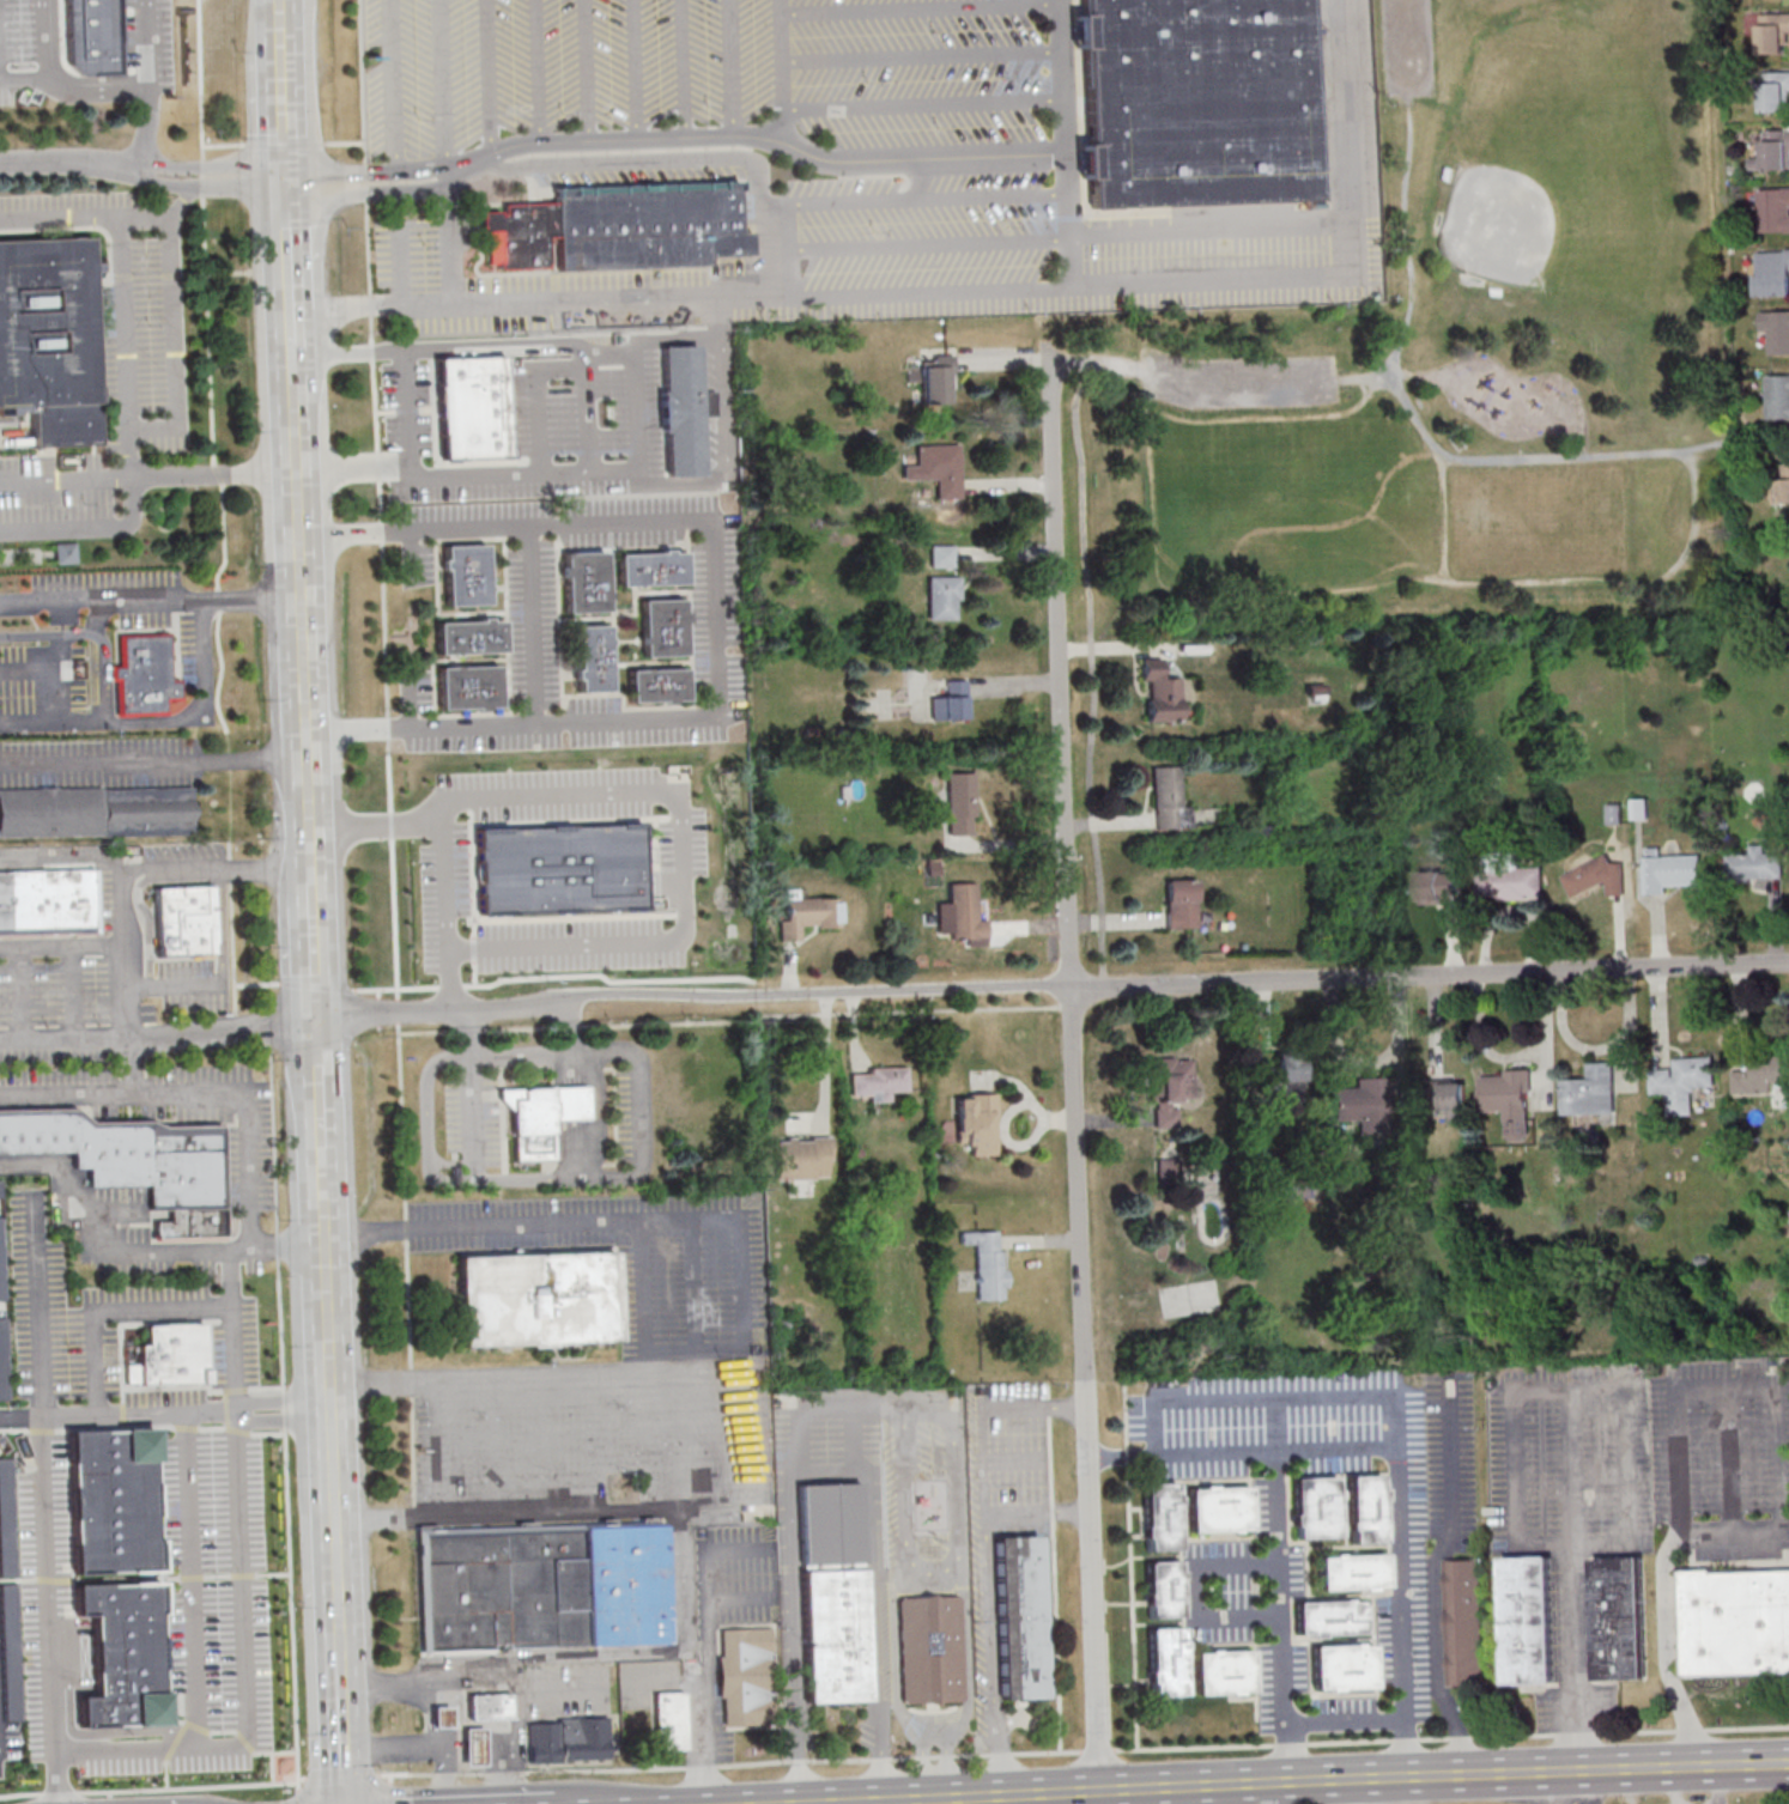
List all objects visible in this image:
building: (90, 6)
road: (922, 7)
road: (280, 22)
building: (1771, 32)
building: (92, 34)
parking lot: (148, 40)
road: (1409, 47)
parking lot: (1409, 50)
road: (923, 54)
parking lot: (47, 59)
road: (729, 66)
road: (685, 67)
road: (589, 68)
road: (635, 68)
road: (538, 69)
road: (784, 72)
road: (491, 77)
road: (150, 83)
road: (74, 85)
road: (396, 87)
road: (444, 87)
building: (1773, 91)
building: (1197, 101)
road: (926, 105)
road: (284, 113)
road: (1341, 134)
building: (1776, 148)
road: (486, 157)
road: (851, 158)
road: (684, 160)
parking lot: (862, 160)
road: (69, 162)
road: (463, 166)
road: (219, 169)
road: (422, 174)
road: (447, 174)
road: (344, 178)
road: (921, 178)
traffic signals: (287, 183)
road: (211, 187)
road: (364, 190)
road: (917, 199)
park: (1540, 201)
road: (287, 208)
building: (1773, 209)
road: (86, 217)
road: (1072, 217)
building: (612, 227)
road: (920, 244)
road: (290, 263)
building: (1772, 272)
road: (836, 290)
road: (372, 306)
parking lot: (135, 310)
road: (292, 317)
road: (127, 322)
building: (1776, 330)
building: (49, 335)
road: (586, 345)
road: (176, 351)
park: (1461, 360)
building: (936, 378)
road: (1385, 378)
parking lot: (1239, 384)
road: (1196, 387)
road: (1144, 395)
building: (1777, 395)
building: (475, 406)
building: (685, 408)
road: (408, 411)
road: (296, 439)
road: (1432, 445)
road: (724, 451)
road: (1584, 451)
building: (509, 463)
building: (941, 467)
road: (583, 472)
road: (148, 478)
building: (1782, 485)
parking lot: (55, 496)
park: (1285, 500)
road: (1445, 521)
building: (63, 552)
building: (944, 555)
building: (653, 566)
building: (466, 572)
building: (584, 581)
road: (1279, 593)
road: (254, 596)
building: (944, 596)
road: (102, 599)
road: (716, 625)
building: (663, 626)
road: (534, 627)
building: (471, 634)
building: (1195, 646)
parking lot: (98, 650)
building: (593, 657)
building: (144, 673)
road: (1093, 673)
road: (305, 682)
road: (387, 684)
building: (659, 684)
building: (469, 685)
building: (1162, 691)
building: (1317, 692)
building: (952, 700)
road: (162, 722)
road: (153, 763)
building: (1171, 798)
building: (963, 801)
building: (1639, 808)
building: (96, 812)
road: (311, 846)
road: (683, 855)
road: (61, 860)
building: (1754, 864)
road: (214, 867)
building: (562, 867)
building: (1669, 871)
building: (1596, 877)
building: (1509, 883)
building: (1436, 886)
road: (313, 889)
building: (47, 899)
building: (1182, 903)
building: (968, 911)
building: (808, 912)
building: (184, 919)
road: (60, 943)
road: (316, 967)
road: (1432, 973)
road: (449, 980)
road: (172, 984)
road: (73, 989)
road: (833, 990)
road: (22, 991)
road: (569, 998)
road: (432, 1012)
traffic signals: (319, 1020)
road: (473, 1027)
road: (138, 1033)
road: (61, 1035)
parking lot: (137, 1047)
road: (829, 1057)
road: (129, 1062)
road: (578, 1068)
building: (1285, 1074)
building: (1763, 1075)
road: (1079, 1077)
building: (878, 1082)
building: (1682, 1082)
building: (1170, 1089)
road: (202, 1091)
building: (1591, 1091)
road: (322, 1095)
building: (1445, 1099)
building: (1509, 1099)
building: (1364, 1101)
road: (580, 1103)
road: (477, 1112)
building: (542, 1116)
building: (977, 1122)
road: (581, 1149)
building: (802, 1158)
building: (132, 1161)
road: (578, 1178)
road: (326, 1193)
building: (68, 1209)
road: (704, 1220)
road: (291, 1244)
road: (98, 1252)
parking lot: (641, 1261)
building: (988, 1262)
road: (697, 1283)
building: (536, 1295)
road: (40, 1305)
road: (111, 1311)
road: (330, 1312)
road: (234, 1329)
building: (165, 1354)
road: (389, 1384)
road: (1567, 1389)
road: (1248, 1398)
road: (1675, 1405)
road: (922, 1407)
road: (285, 1408)
road: (830, 1408)
road: (875, 1408)
road: (988, 1410)
road: (19, 1417)
road: (1395, 1423)
road: (1157, 1427)
parking lot: (600, 1436)
road: (445, 1450)
road: (1219, 1454)
road: (1127, 1457)
road: (1729, 1458)
road: (42, 1487)
building: (119, 1499)
building: (1318, 1506)
building: (1220, 1507)
building: (1369, 1507)
road: (336, 1510)
building: (1163, 1514)
road: (683, 1544)
road: (1132, 1566)
road: (1055, 1567)
building: (1354, 1571)
building: (1698, 1571)
road: (194, 1580)
road: (1438, 1580)
road: (1572, 1581)
building: (545, 1586)
building: (1165, 1587)
building: (836, 1592)
road: (1196, 1595)
road: (290, 1600)
road: (990, 1600)
road: (1403, 1614)
building: (1023, 1616)
building: (1332, 1616)
building: (1618, 1616)
road: (1284, 1618)
building: (1532, 1618)
building: (1464, 1620)
building: (1736, 1622)
road: (340, 1633)
road: (709, 1644)
building: (933, 1648)
building: (127, 1651)
building: (1168, 1660)
building: (1345, 1666)
road: (244, 1671)
building: (1225, 1671)
building: (748, 1675)
road: (466, 1682)
building: (487, 1706)
road: (454, 1715)
building: (442, 1717)
building: (672, 1721)
road: (1348, 1721)
road: (341, 1729)
road: (504, 1736)
building: (570, 1739)
road: (0, 1742)
road: (423, 1745)
building: (474, 1745)
road: (1083, 1750)
road: (340, 1778)
road: (54, 1779)
road: (151, 1785)
road: (1311, 1785)
road: (389, 1788)
road: (298, 1798)
road: (924, 1802)

